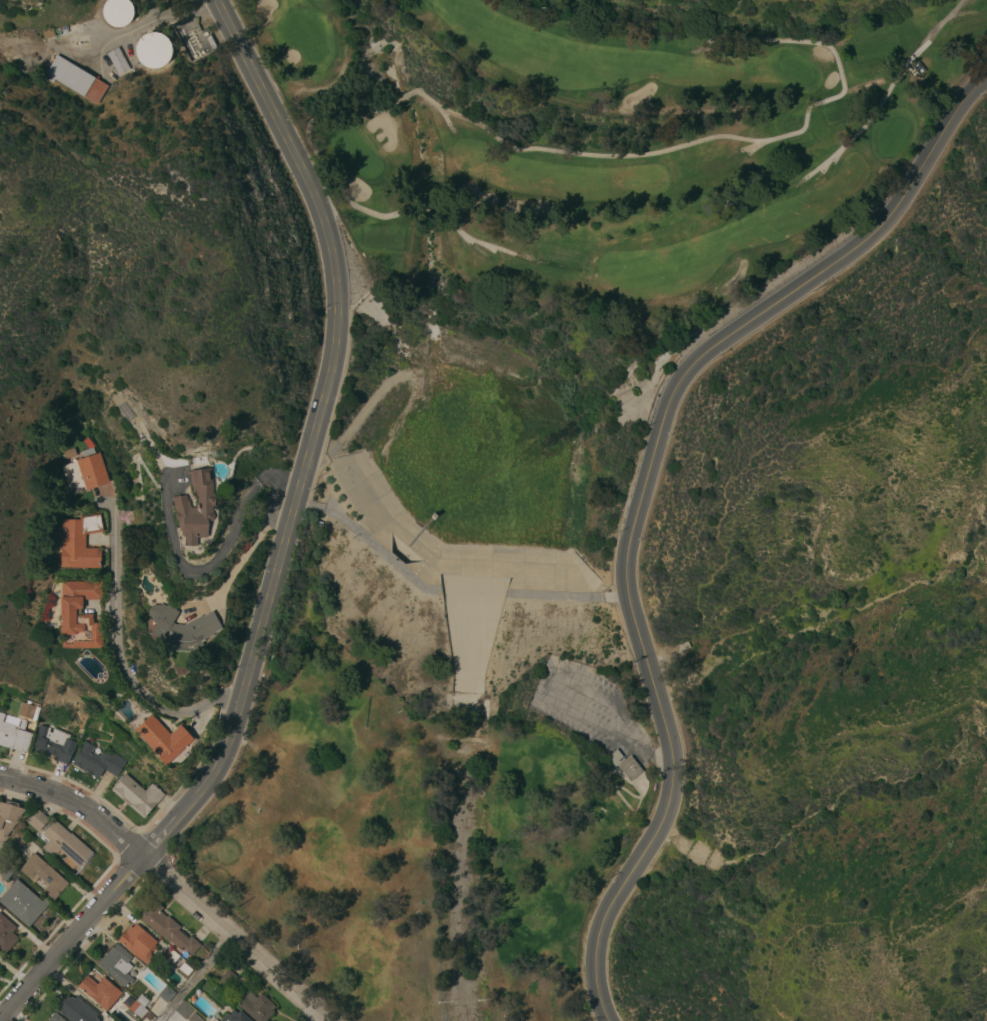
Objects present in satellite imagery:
building: (116, 12)
road: (207, 14)
road: (98, 44)
building: (153, 49)
building: (117, 60)
building: (75, 79)
park: (605, 161)
road: (371, 405)
road: (311, 433)
road: (315, 457)
building: (85, 471)
road: (643, 493)
road: (309, 505)
building: (195, 507)
building: (80, 541)
road: (223, 548)
road: (382, 553)
road: (241, 557)
dam: (447, 590)
road: (567, 593)
building: (79, 615)
building: (182, 627)
road: (117, 648)
road: (549, 687)
road: (226, 696)
parking lot: (581, 701)
building: (18, 730)
road: (632, 735)
building: (163, 738)
building: (54, 744)
road: (653, 755)
building: (615, 757)
building: (98, 761)
building: (630, 767)
building: (137, 794)
building: (9, 816)
building: (18, 839)
building: (60, 839)
building: (6, 869)
building: (43, 875)
road: (172, 883)
building: (23, 902)
building: (167, 927)
building: (6, 934)
road: (73, 940)
building: (138, 942)
building: (171, 955)
building: (117, 964)
building: (184, 968)
building: (228, 978)
road: (194, 979)
building: (100, 991)
building: (166, 993)
building: (138, 1006)
building: (257, 1006)
building: (76, 1009)
building: (184, 1009)
building: (236, 1016)
building: (55, 1017)
building: (195, 1017)
road: (322, 1020)

